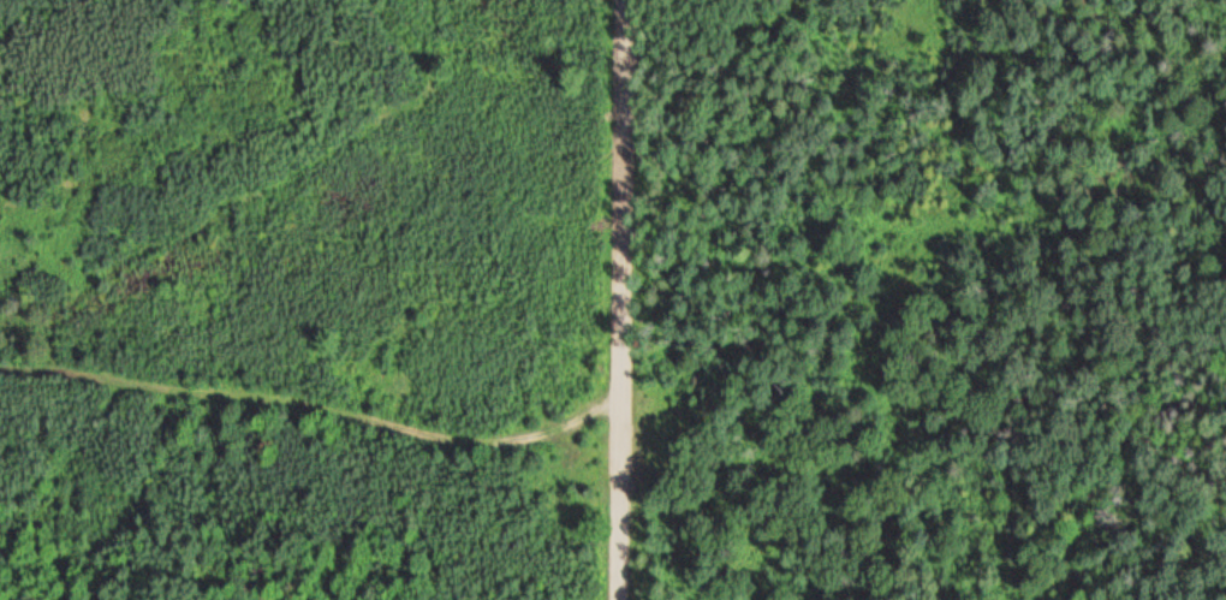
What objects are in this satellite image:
road: (618, 299)

